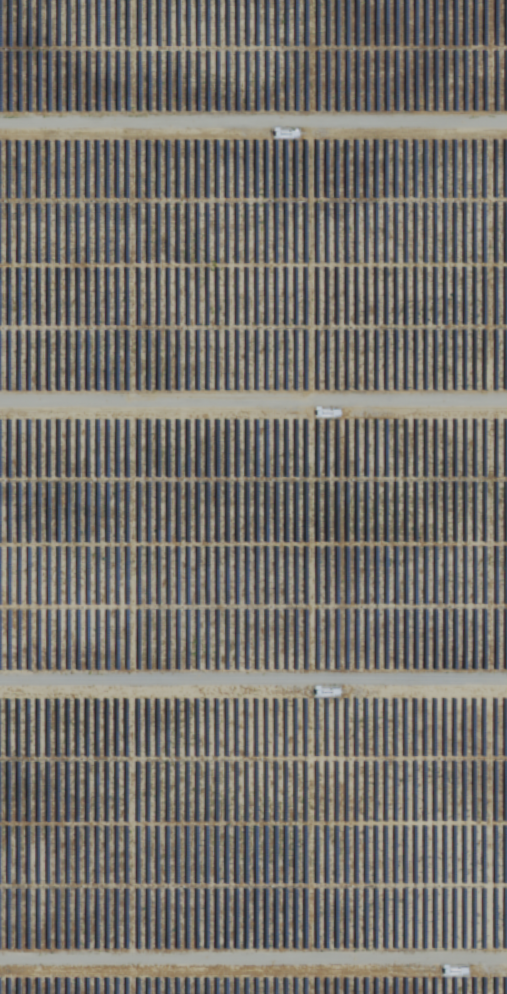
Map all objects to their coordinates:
solar farm: (253, 497)

